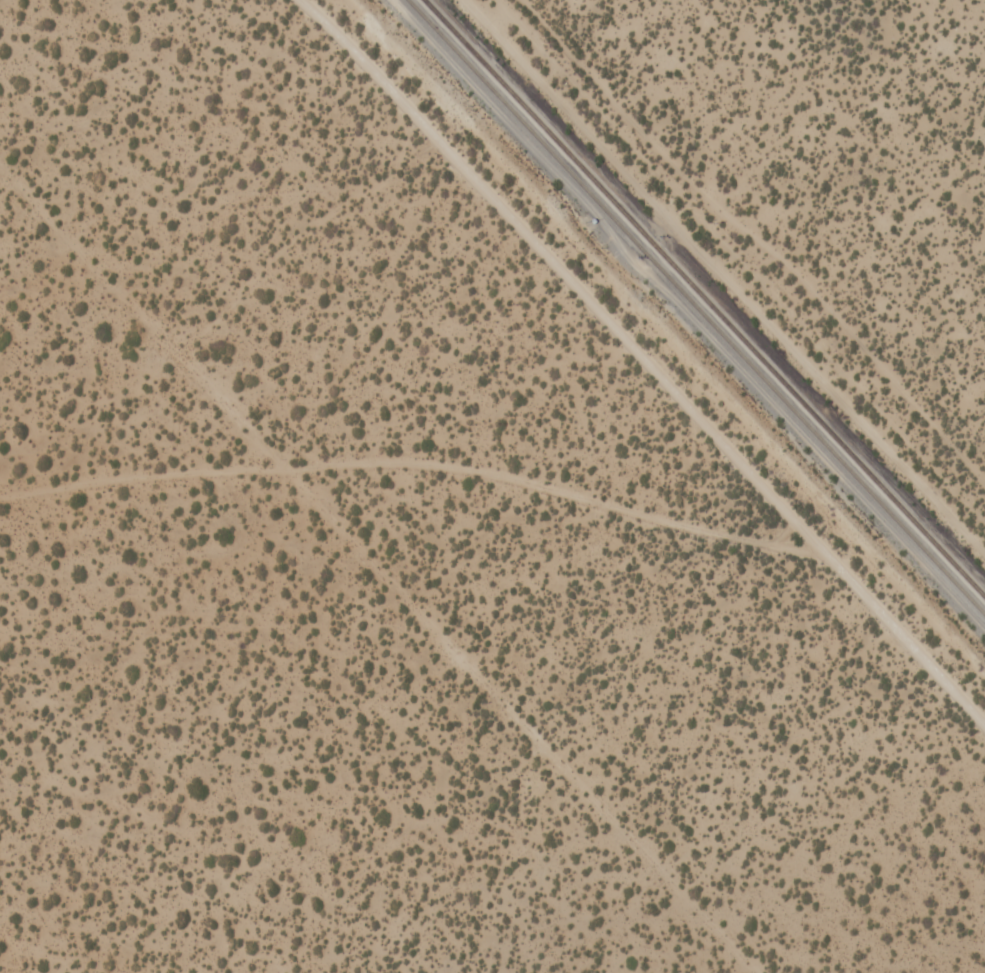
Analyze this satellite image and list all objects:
road: (763, 232)
road: (561, 273)
road: (721, 283)
railway: (703, 299)
railway: (695, 307)
road: (412, 482)
road: (902, 635)
road: (518, 724)

